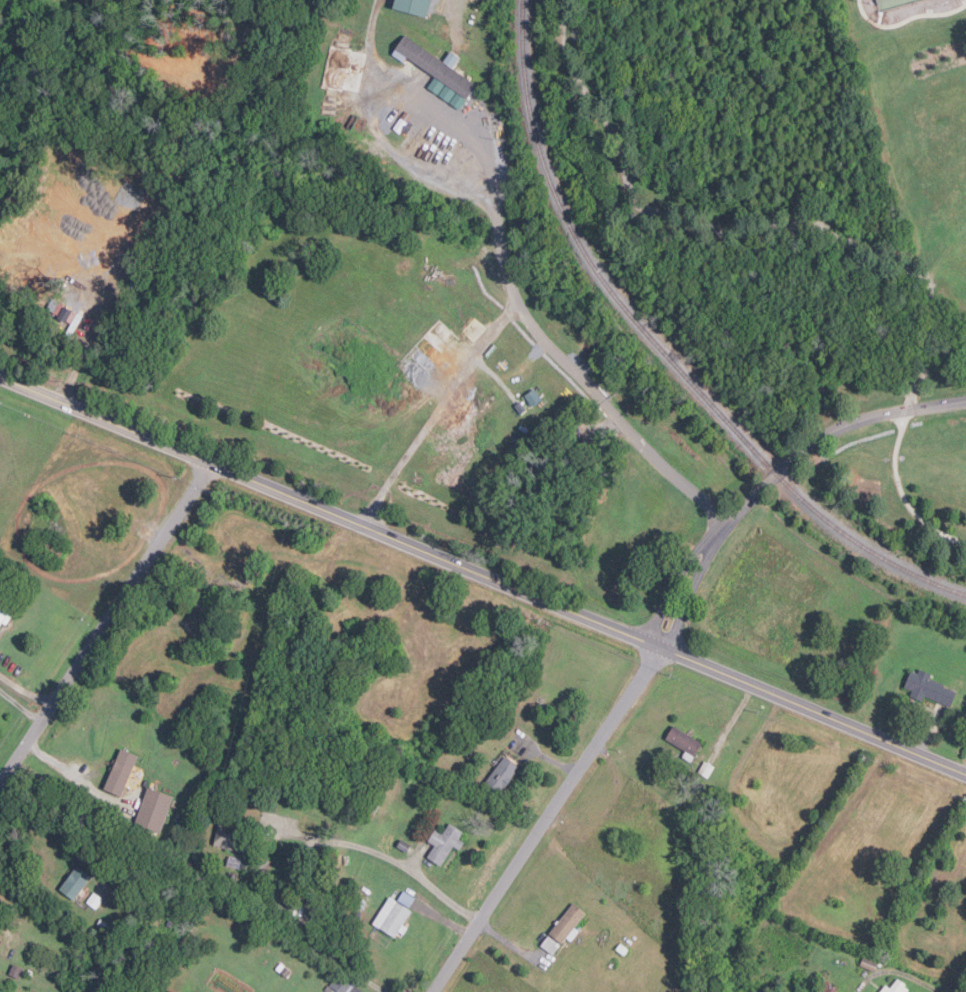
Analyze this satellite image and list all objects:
park: (891, 3)
building: (418, 6)
road: (906, 19)
building: (437, 69)
road: (500, 225)
road: (826, 230)
park: (595, 300)
railway: (664, 352)
road: (436, 411)
road: (820, 437)
road: (482, 573)
road: (671, 587)
road: (688, 596)
building: (5, 614)
road: (106, 621)
building: (929, 687)
road: (19, 706)
building: (684, 742)
building: (121, 772)
road: (69, 774)
building: (502, 774)
building: (153, 810)
road: (547, 819)
building: (231, 838)
building: (444, 843)
road: (381, 853)
road: (312, 870)
building: (75, 883)
building: (392, 917)
building: (567, 924)
building: (550, 945)
road: (895, 972)
building: (825, 987)
building: (898, 988)
building: (885, 990)

